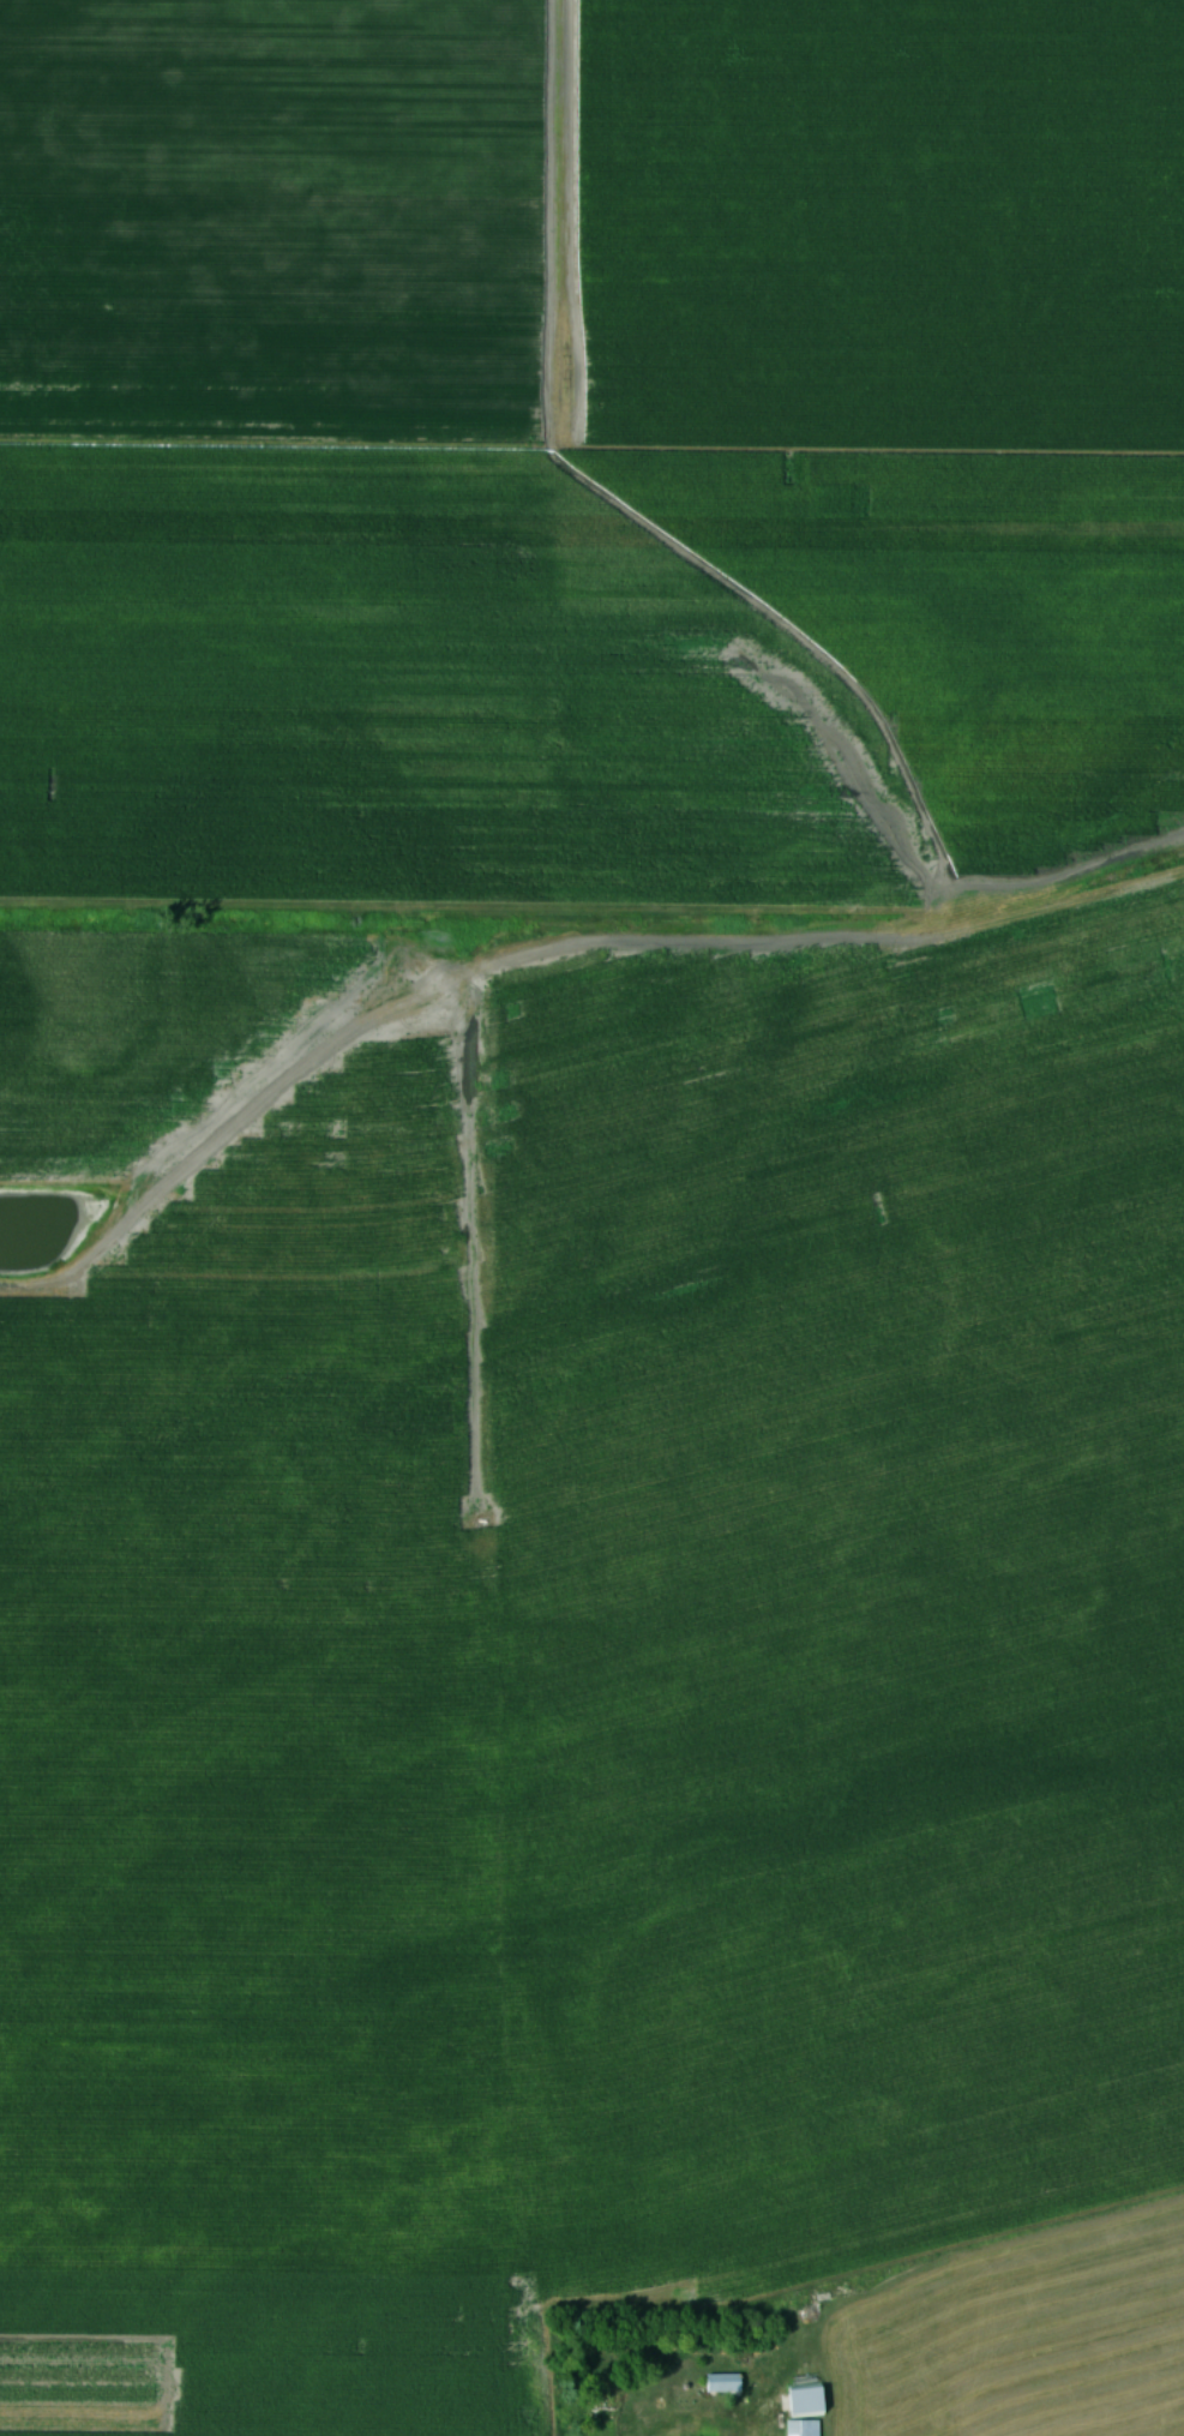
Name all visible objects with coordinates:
building: (723, 2384)
building: (809, 2402)
building: (803, 2429)

